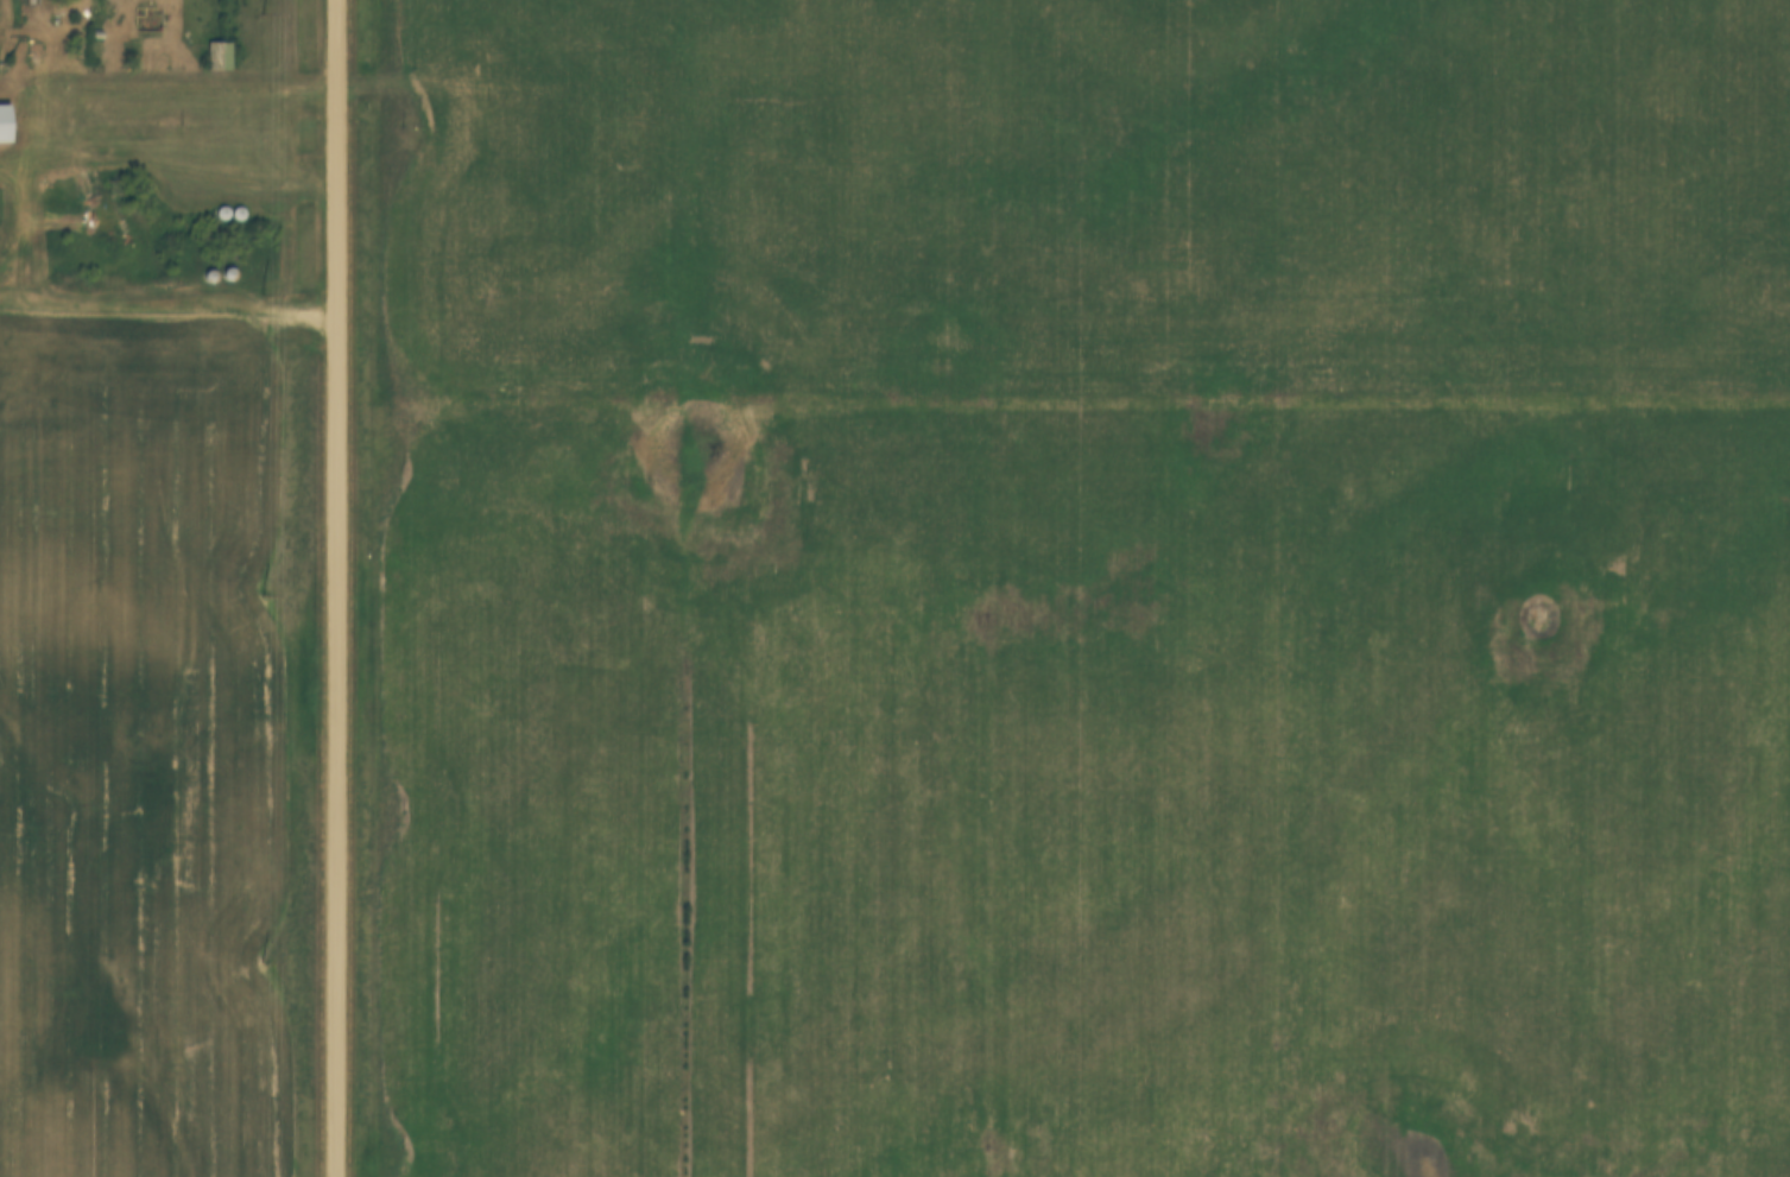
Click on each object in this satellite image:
road: (53, 124)
building: (6, 125)
road: (170, 310)
road: (339, 588)

